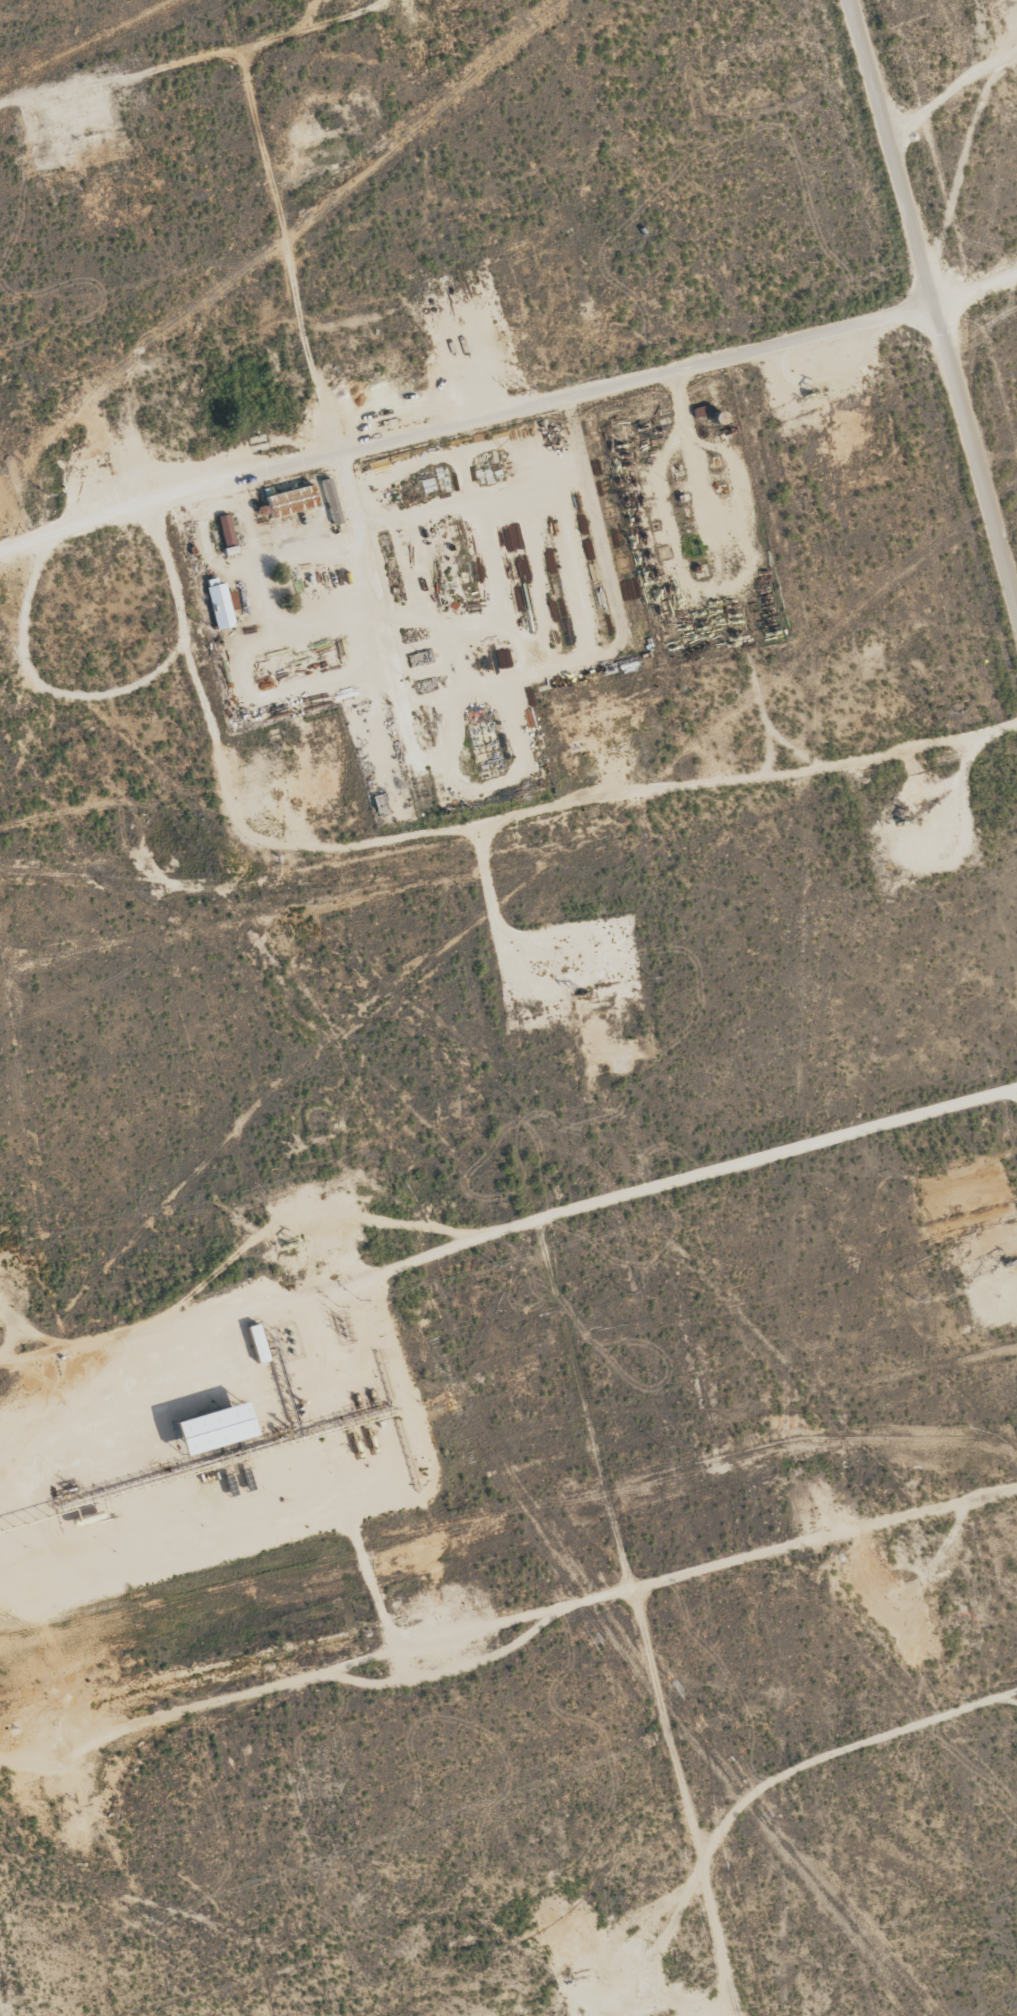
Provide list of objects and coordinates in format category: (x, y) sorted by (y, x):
road: (948, 91)
road: (975, 296)
road: (933, 306)
road: (465, 430)
building: (289, 500)
building: (330, 500)
building: (223, 531)
building: (219, 605)
road: (543, 1239)
building: (252, 1342)
building: (200, 1426)

